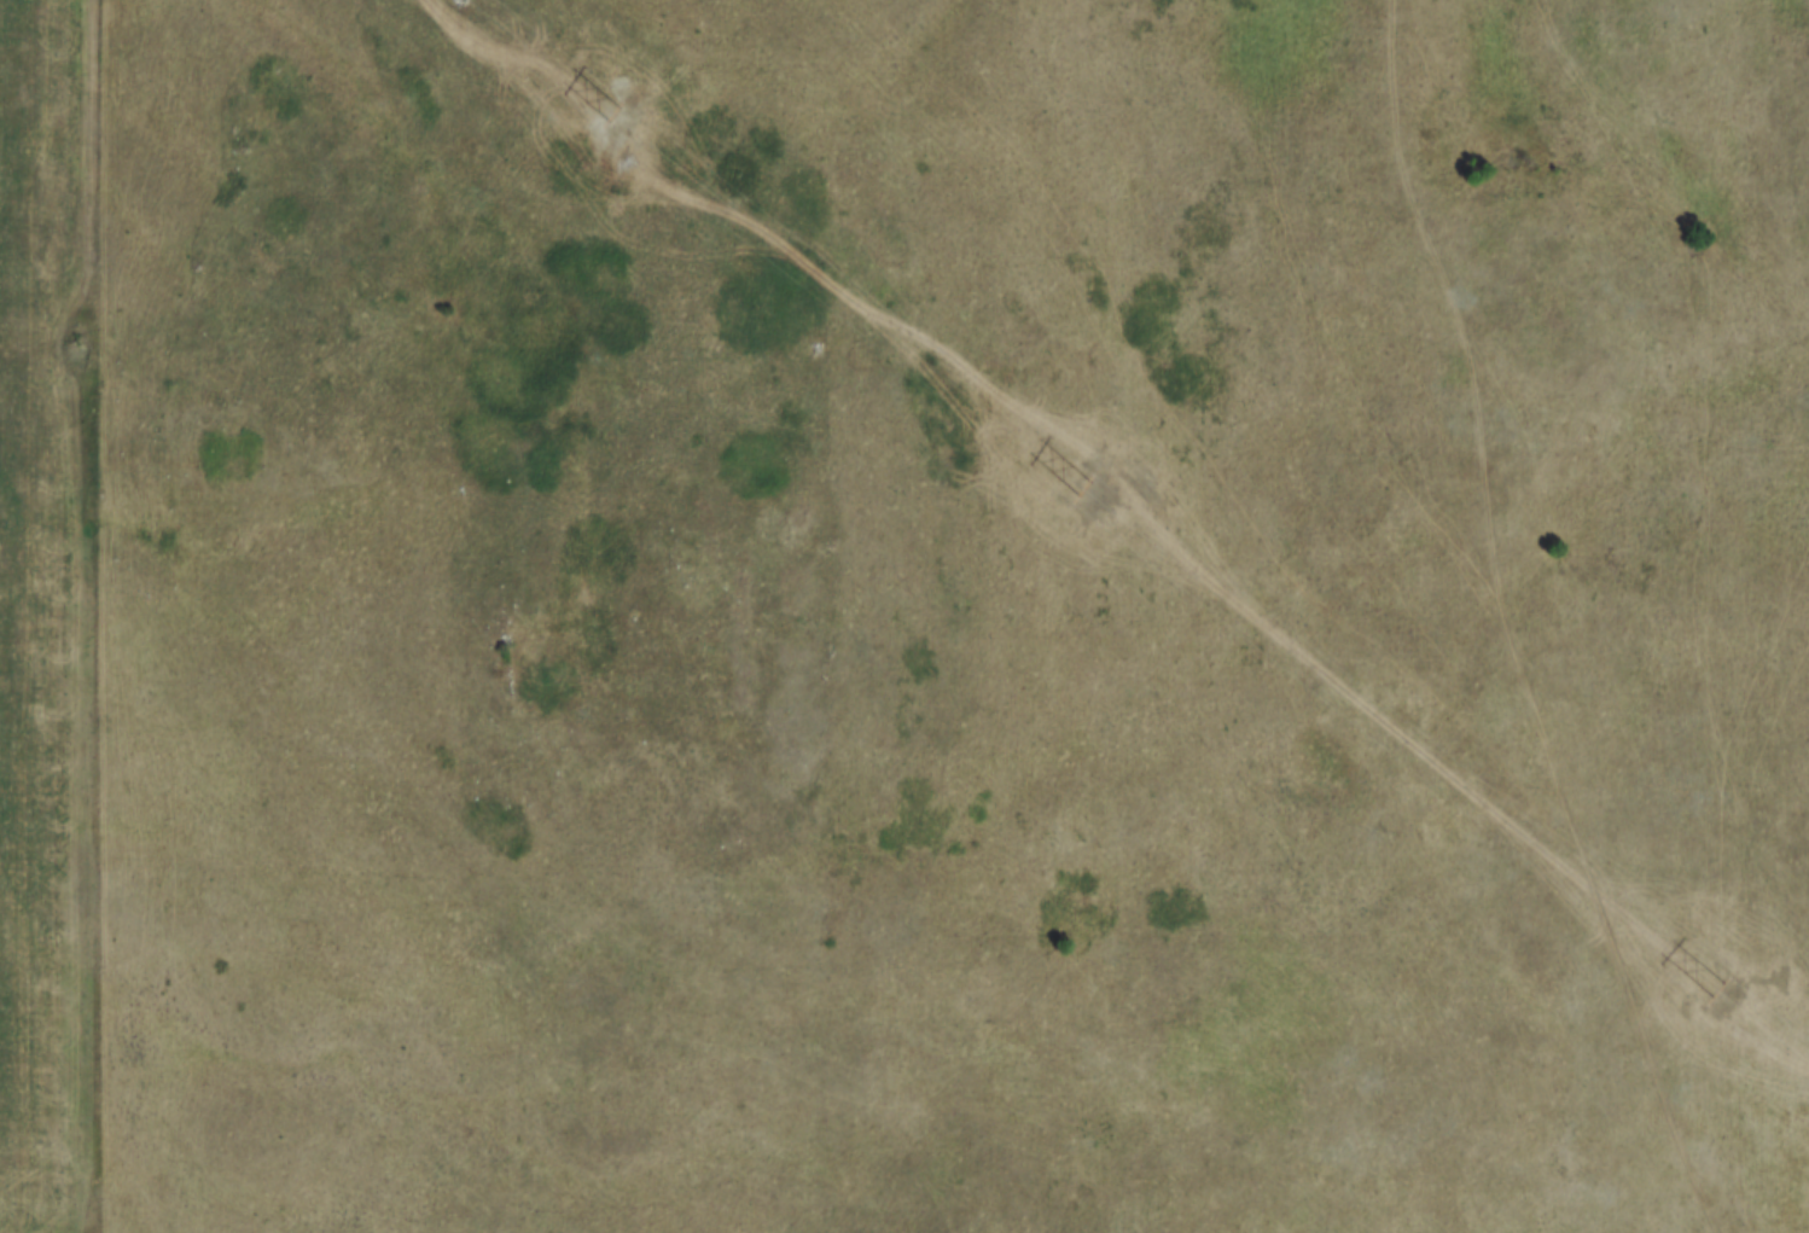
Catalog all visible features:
power tower: (627, 118)
power tower: (1104, 492)
power tower: (1733, 995)

